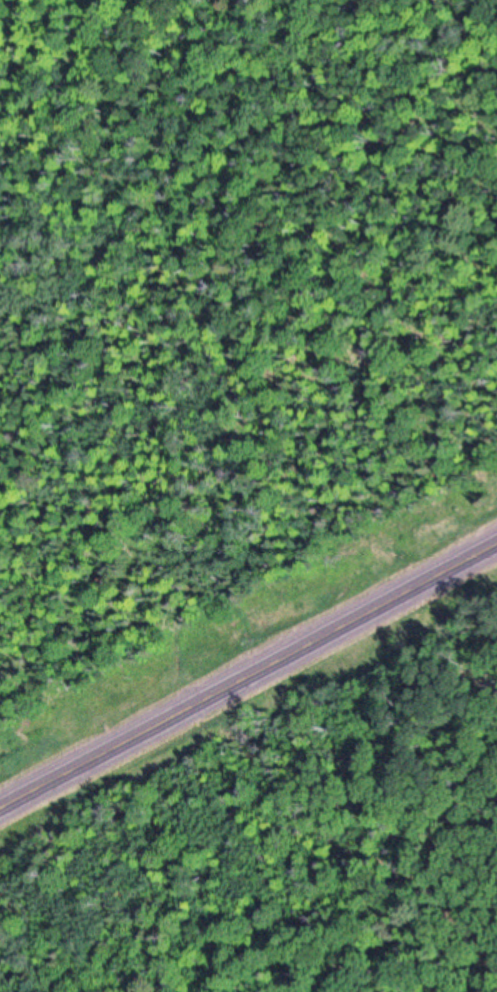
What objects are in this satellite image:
road: (248, 672)

